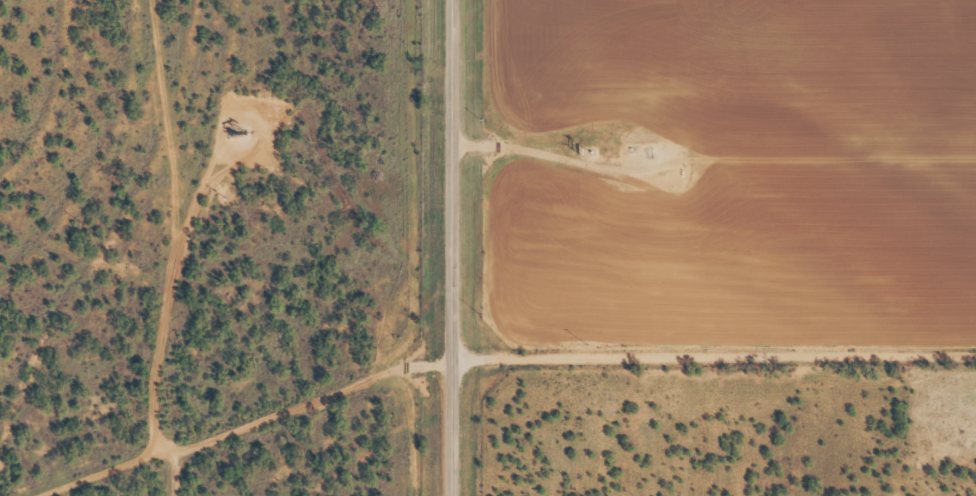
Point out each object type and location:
road: (451, 248)
road: (713, 355)
road: (252, 431)

